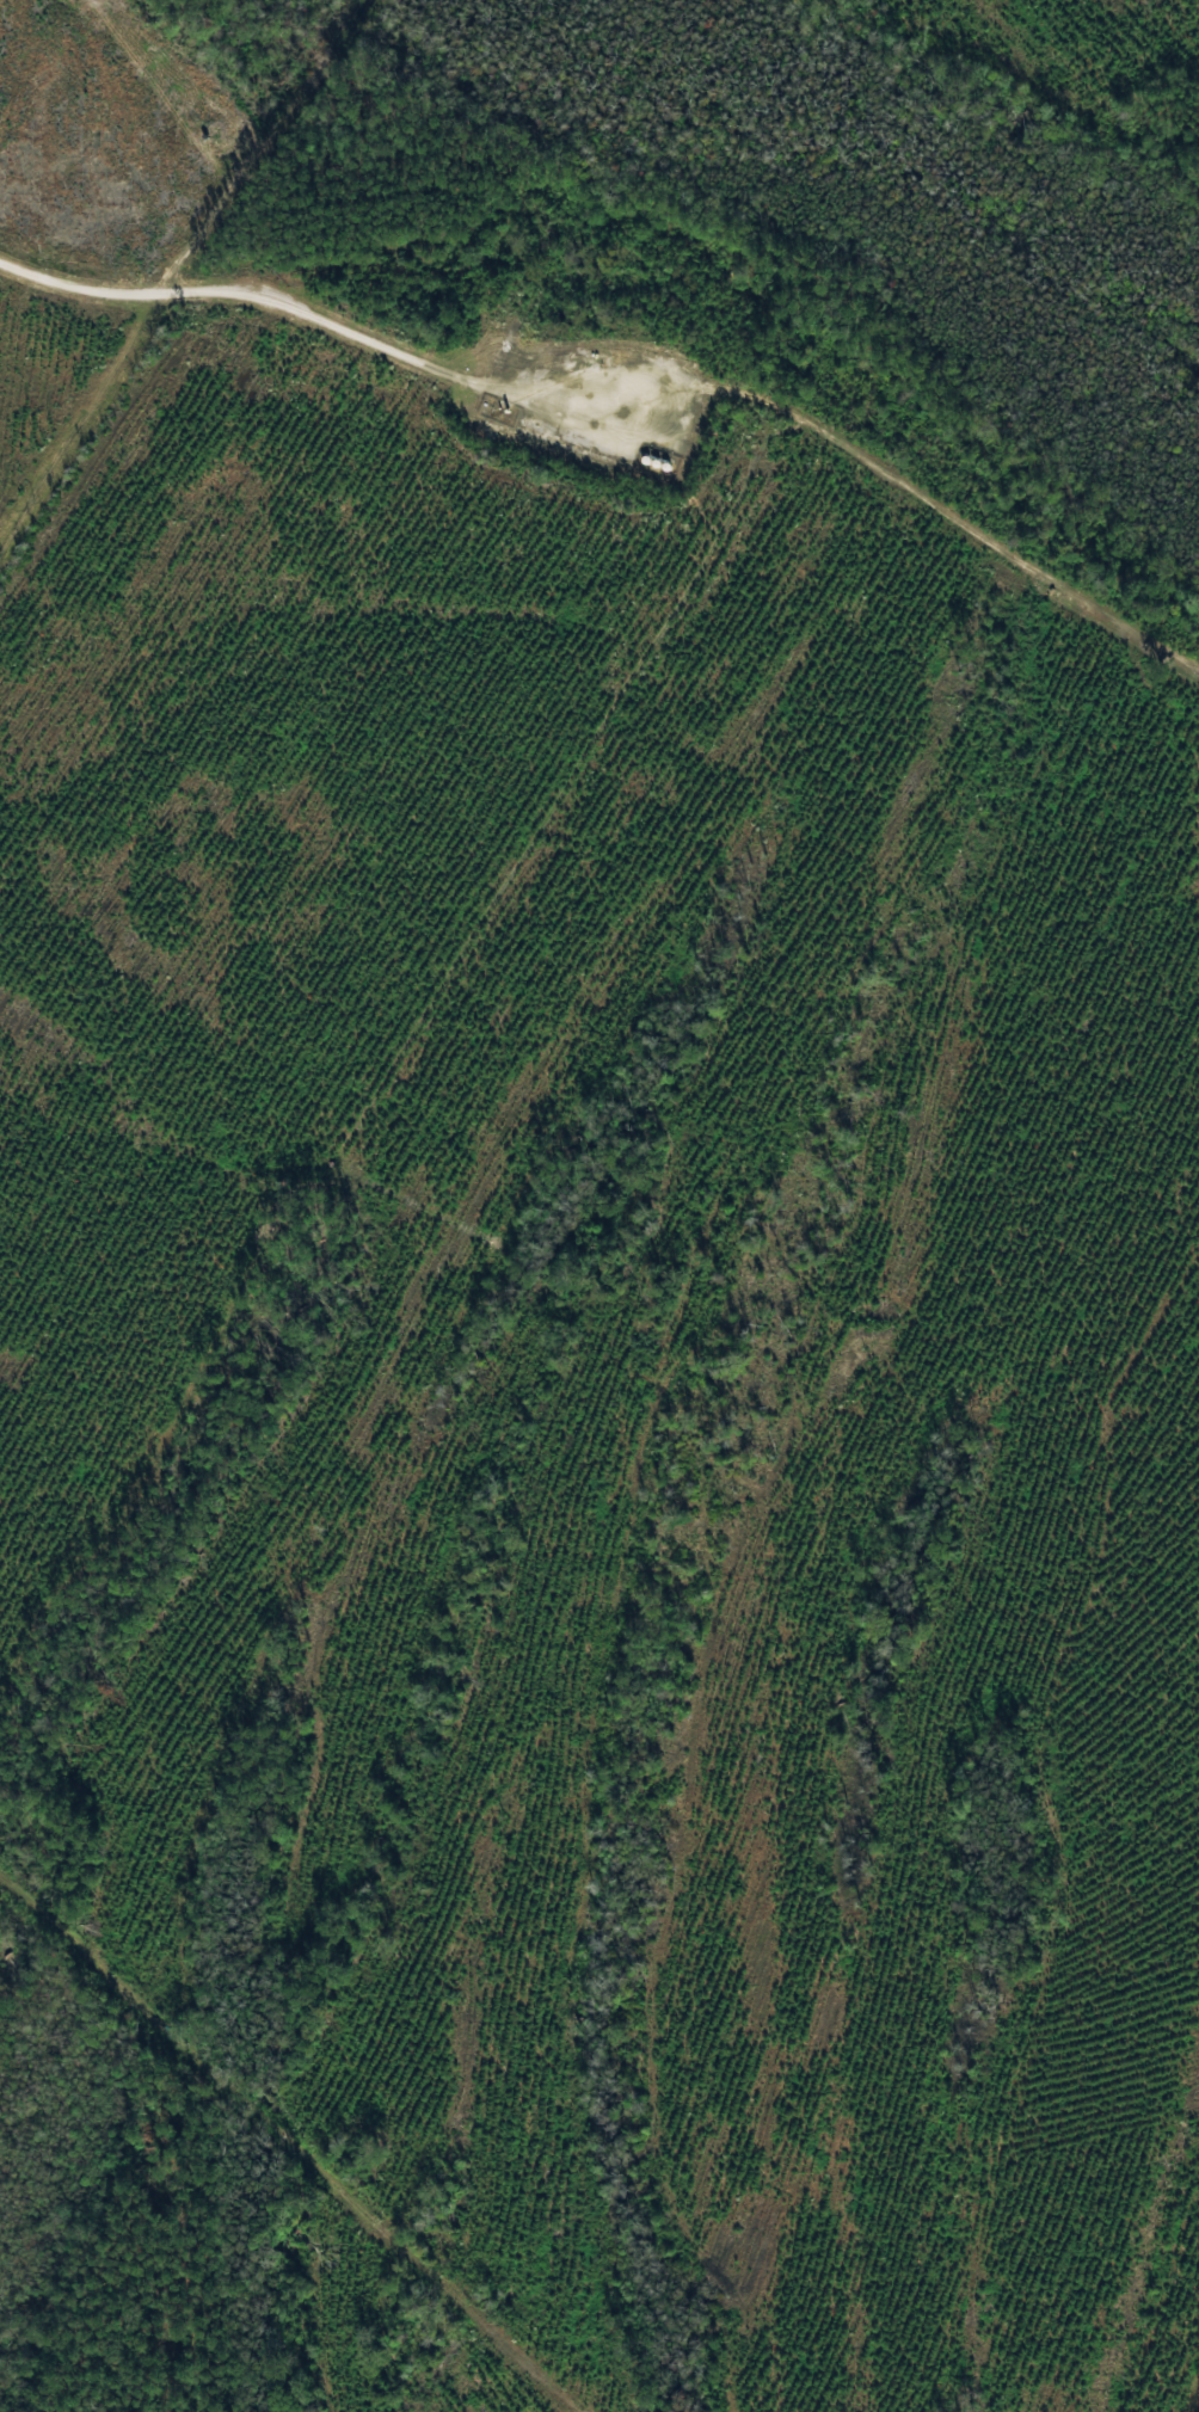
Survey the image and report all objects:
road: (295, 2161)

